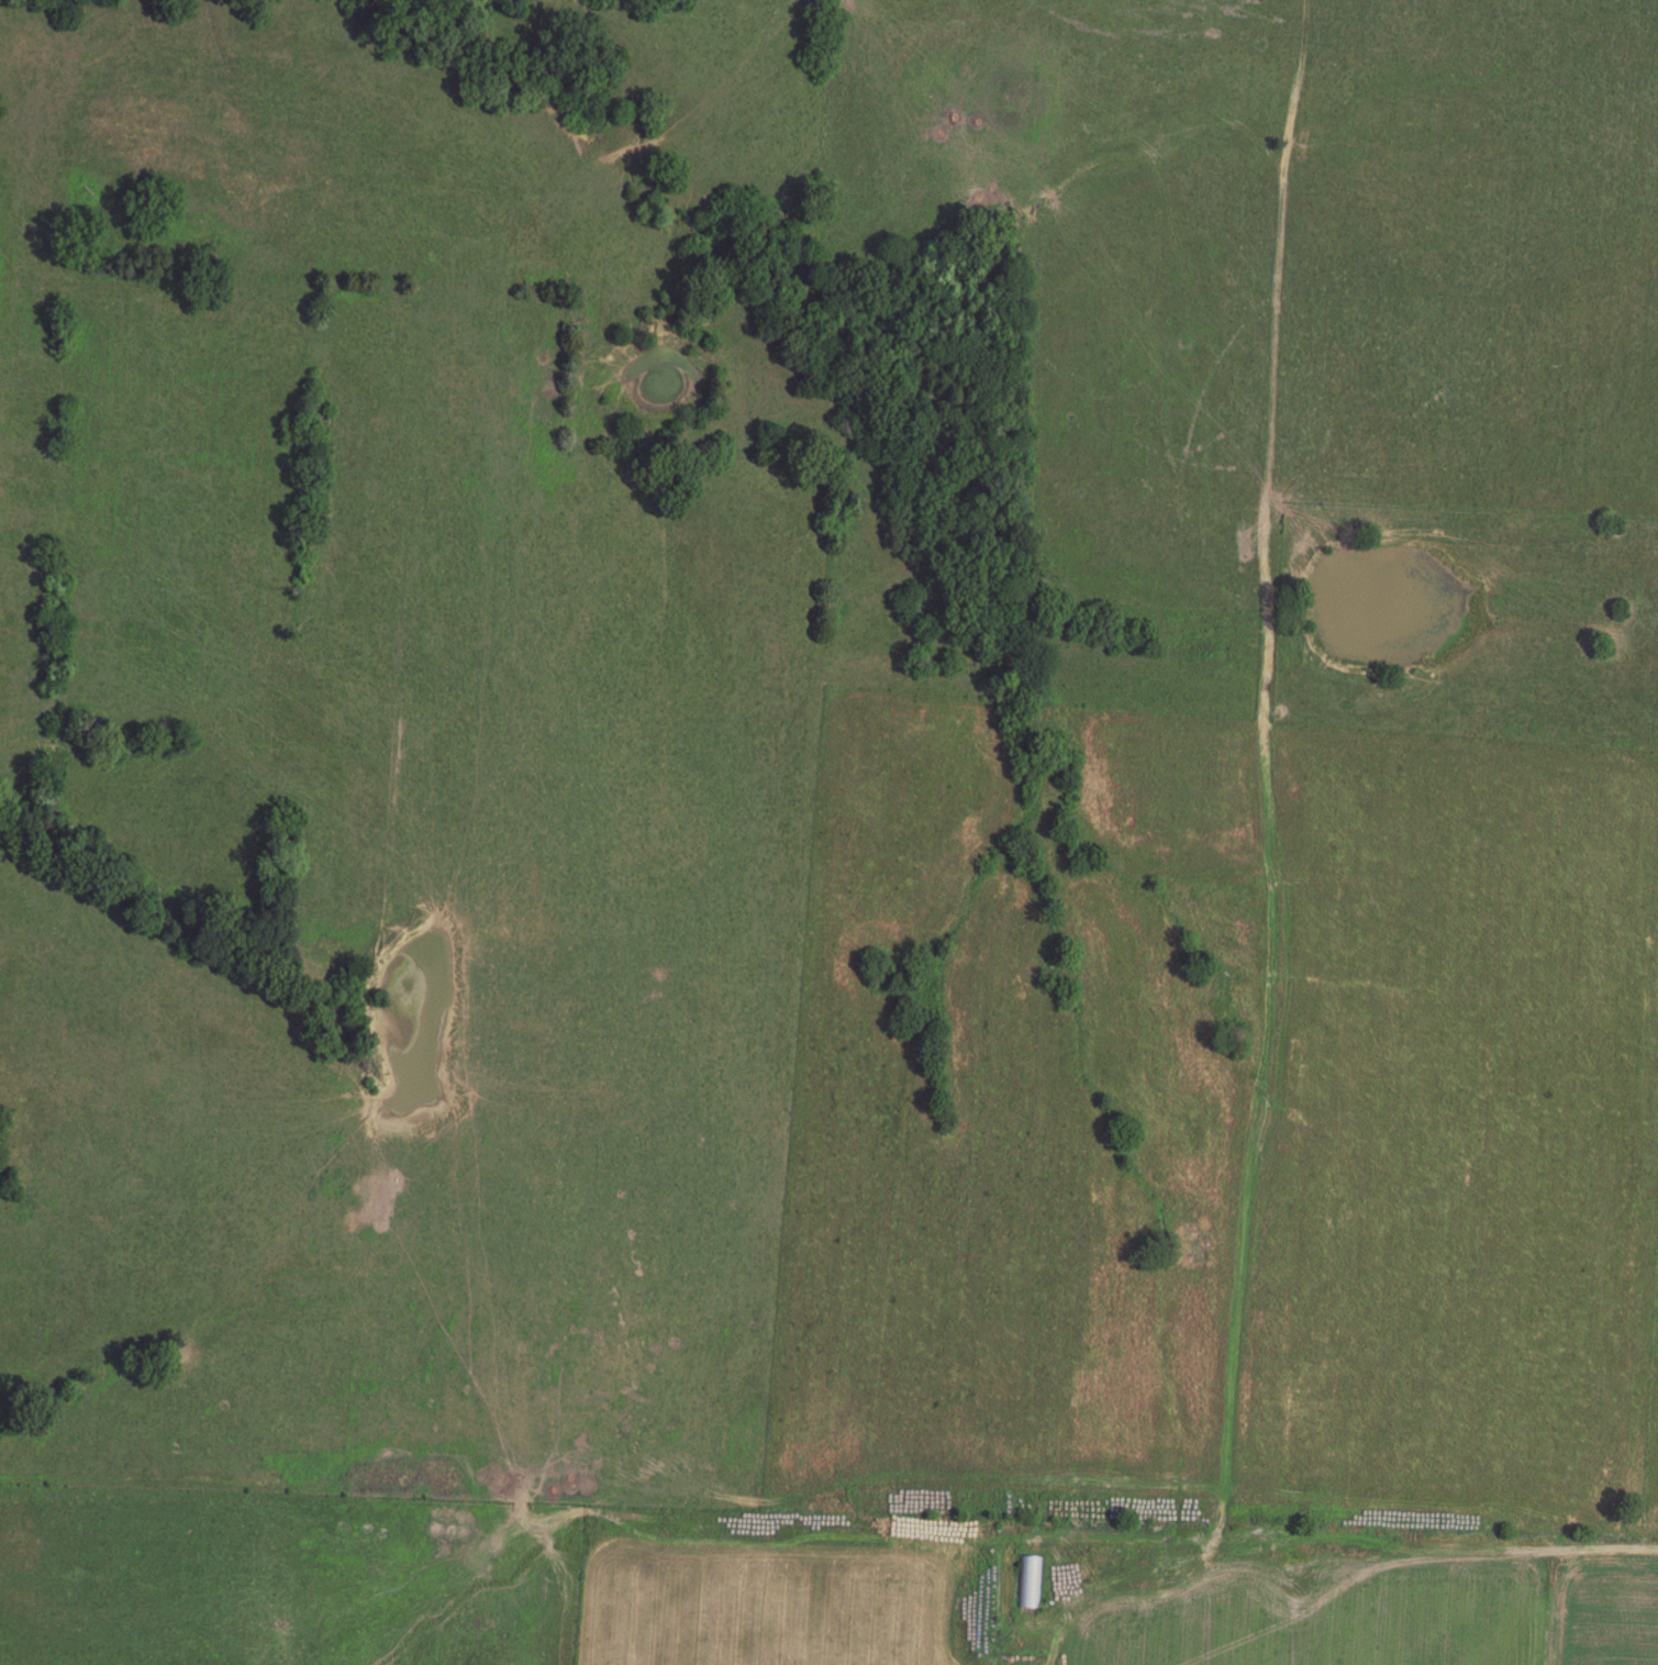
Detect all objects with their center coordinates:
road: (1258, 764)
road: (1401, 1543)

